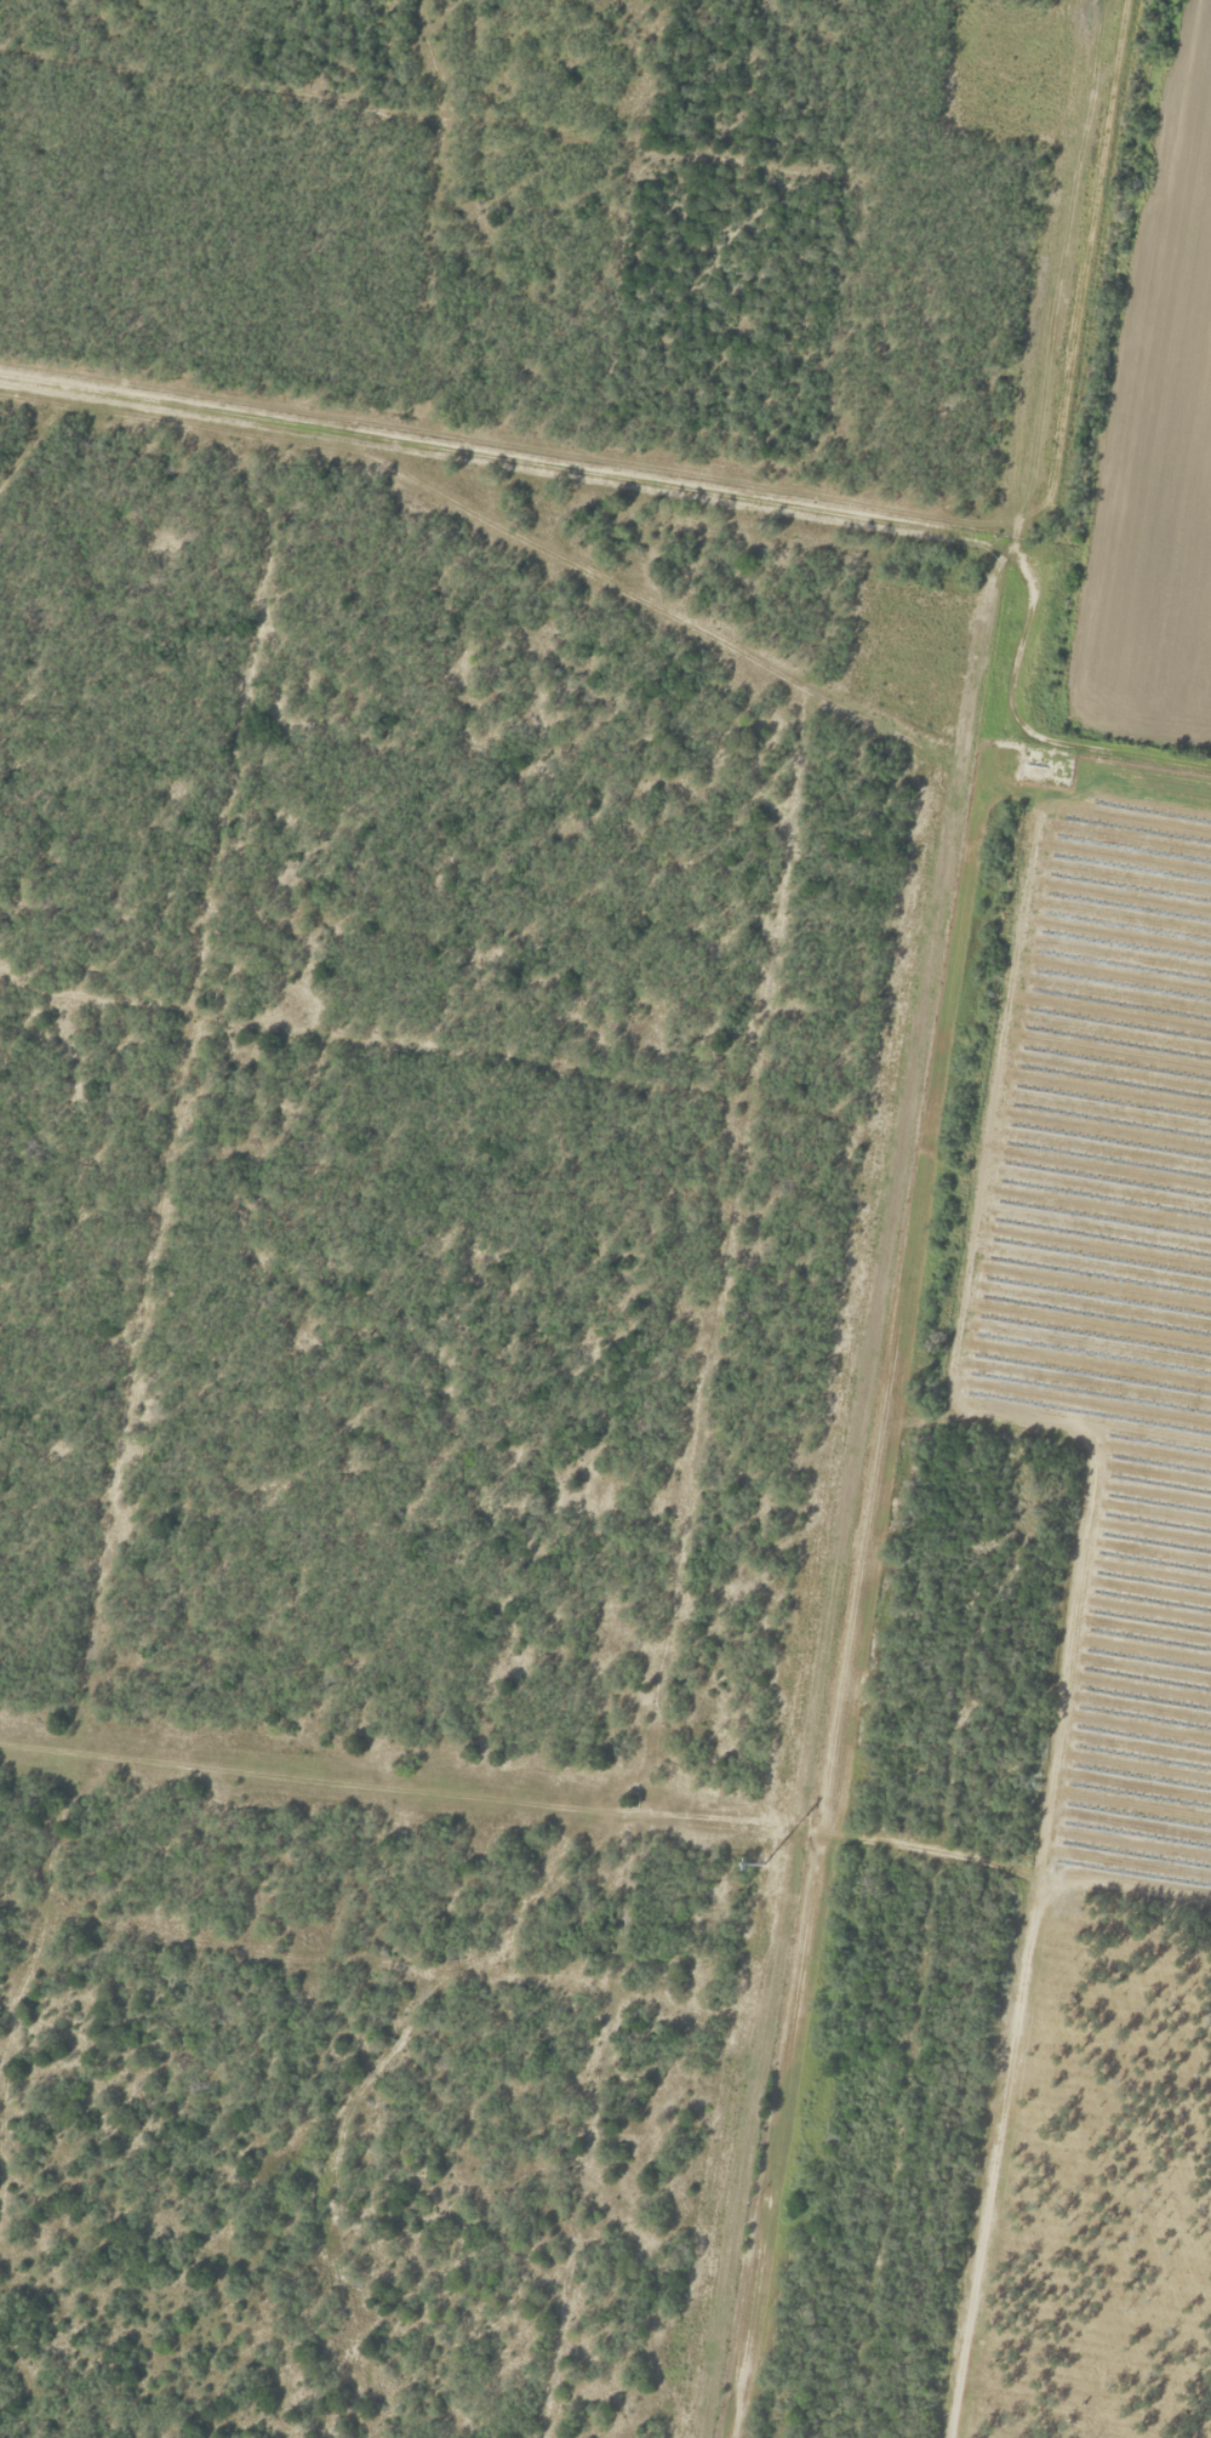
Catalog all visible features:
railway: (946, 1218)
road: (882, 1220)

